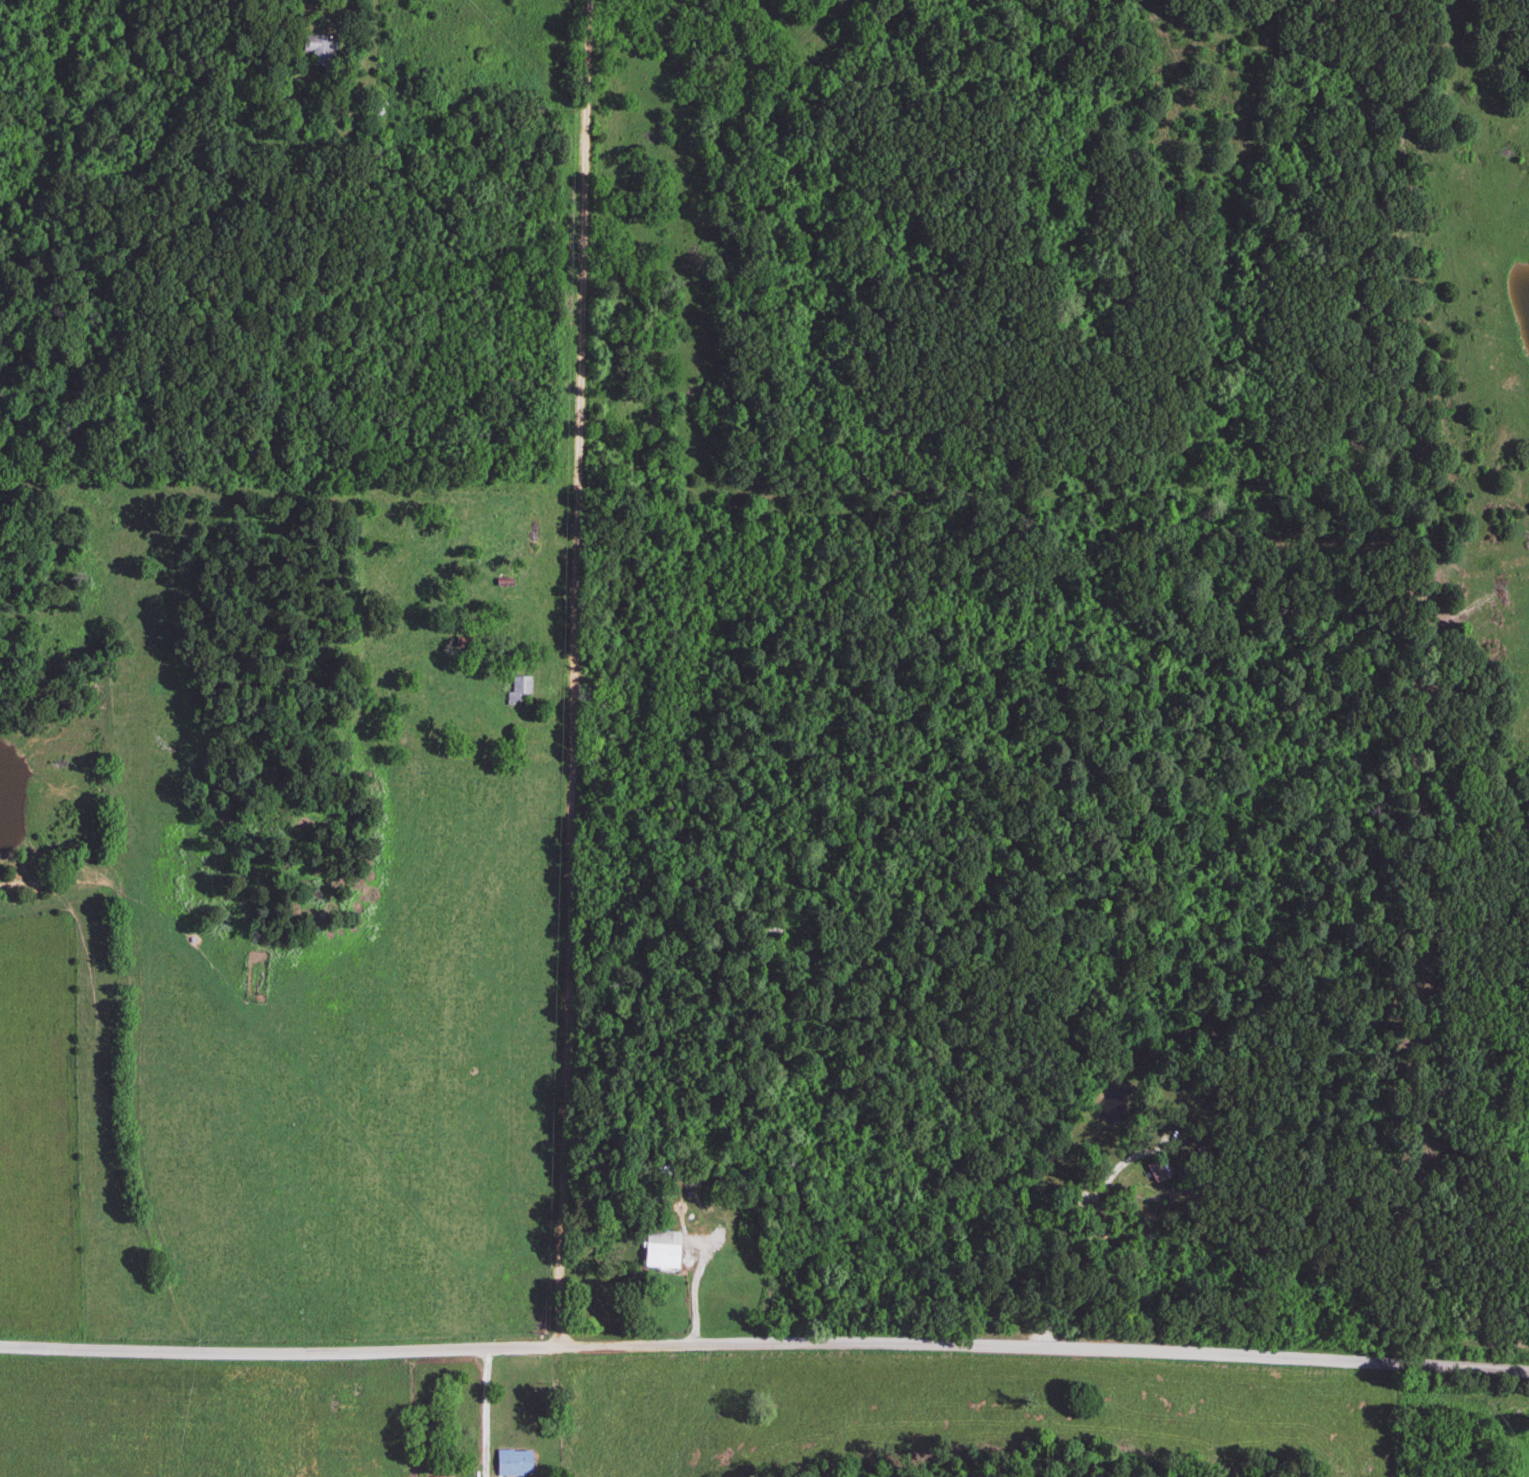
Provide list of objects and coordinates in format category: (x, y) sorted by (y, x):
building: (319, 49)
road: (566, 670)
building: (518, 692)
building: (661, 1250)
road: (694, 1288)
road: (764, 1338)
road: (485, 1415)
building: (513, 1462)
building: (439, 1476)

